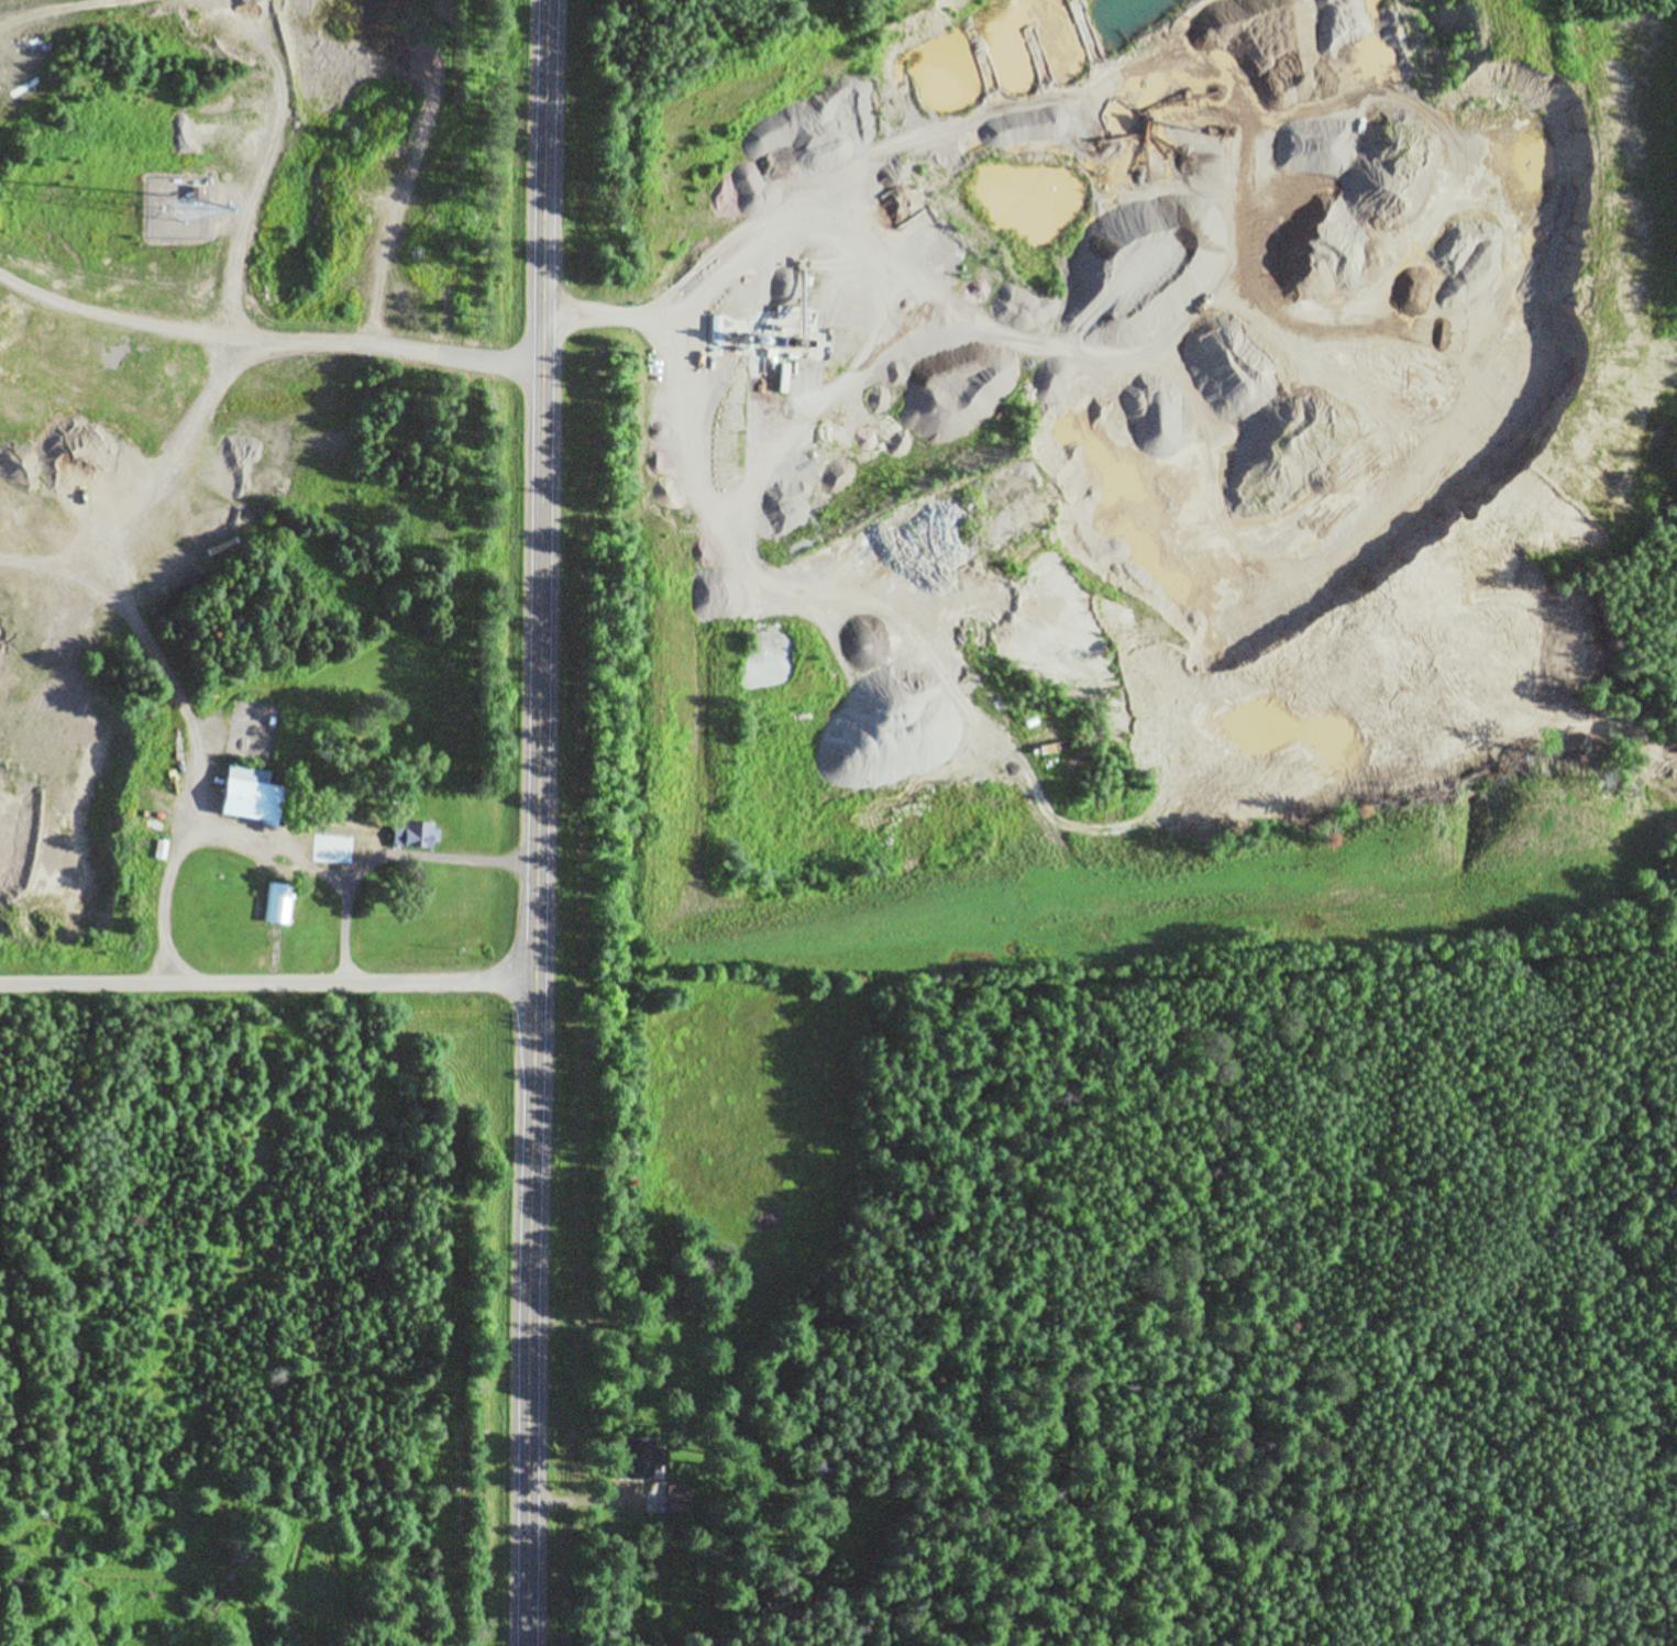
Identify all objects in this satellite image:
building: (197, 195)
building: (405, 306)
quarry: (181, 340)
quarry: (1108, 401)
building: (253, 521)
building: (88, 601)
building: (249, 796)
road: (544, 822)
building: (417, 835)
building: (159, 849)
building: (341, 852)
building: (279, 904)
road: (271, 993)
building: (641, 1459)
building: (676, 1504)

